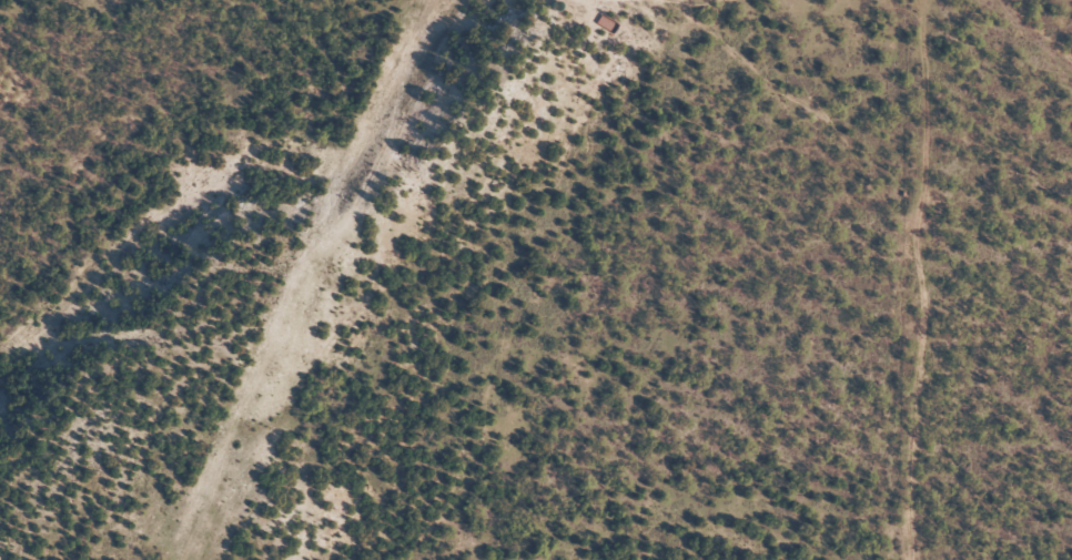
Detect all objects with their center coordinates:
road: (747, 20)
road: (1050, 30)
road: (720, 283)

